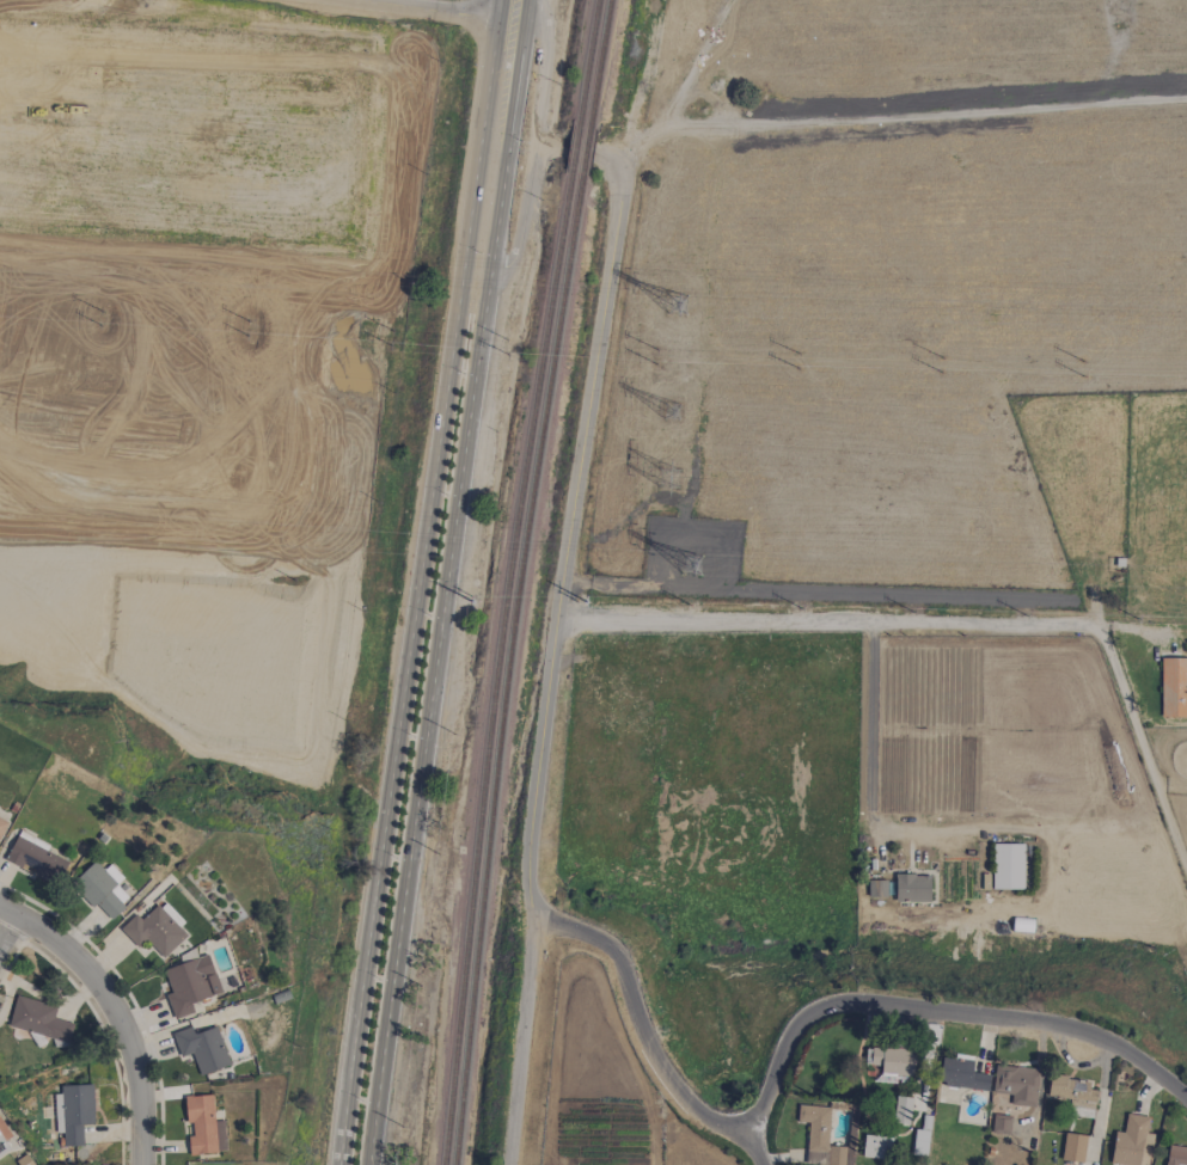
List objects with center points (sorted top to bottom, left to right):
road: (436, 7)
road: (500, 7)
road: (522, 8)
road: (510, 17)
road: (515, 60)
railway: (588, 61)
railway: (599, 62)
road: (543, 69)
road: (567, 147)
railway: (574, 149)
railway: (585, 153)
road: (524, 214)
power tower: (678, 302)
power tower: (103, 312)
power tower: (249, 323)
power tower: (99, 326)
power tower: (397, 332)
power tower: (246, 337)
power tower: (507, 341)
power tower: (393, 347)
power tower: (656, 350)
power tower: (796, 354)
power tower: (507, 355)
power tower: (941, 358)
power tower: (1081, 362)
power tower: (655, 364)
power tower: (796, 368)
power tower: (941, 373)
power tower: (1082, 376)
power tower: (672, 411)
power tower: (668, 476)
road: (568, 533)
power tower: (691, 565)
road: (417, 589)
road: (954, 621)
road: (440, 634)
railway: (496, 669)
railway: (509, 670)
building: (1173, 687)
road: (869, 722)
building: (2, 826)
building: (35, 858)
building: (1006, 866)
building: (876, 888)
building: (912, 888)
building: (100, 889)
road: (6, 927)
building: (153, 931)
building: (189, 985)
road: (117, 1010)
building: (38, 1020)
road: (787, 1038)
road: (521, 1043)
building: (202, 1049)
building: (892, 1061)
building: (961, 1075)
building: (1016, 1085)
building: (1073, 1096)
building: (901, 1110)
building: (73, 1112)
building: (1001, 1124)
building: (203, 1126)
building: (5, 1141)
building: (919, 1142)
building: (1130, 1142)
building: (875, 1147)
road: (755, 1148)
building: (1072, 1148)
building: (1176, 1155)
building: (24, 1160)

